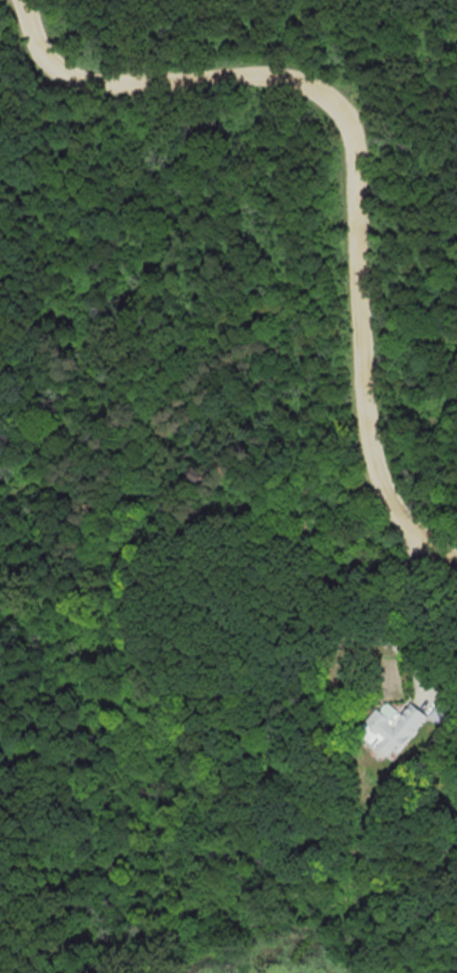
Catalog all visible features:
road: (358, 155)
park: (220, 470)
road: (389, 611)
building: (387, 726)

